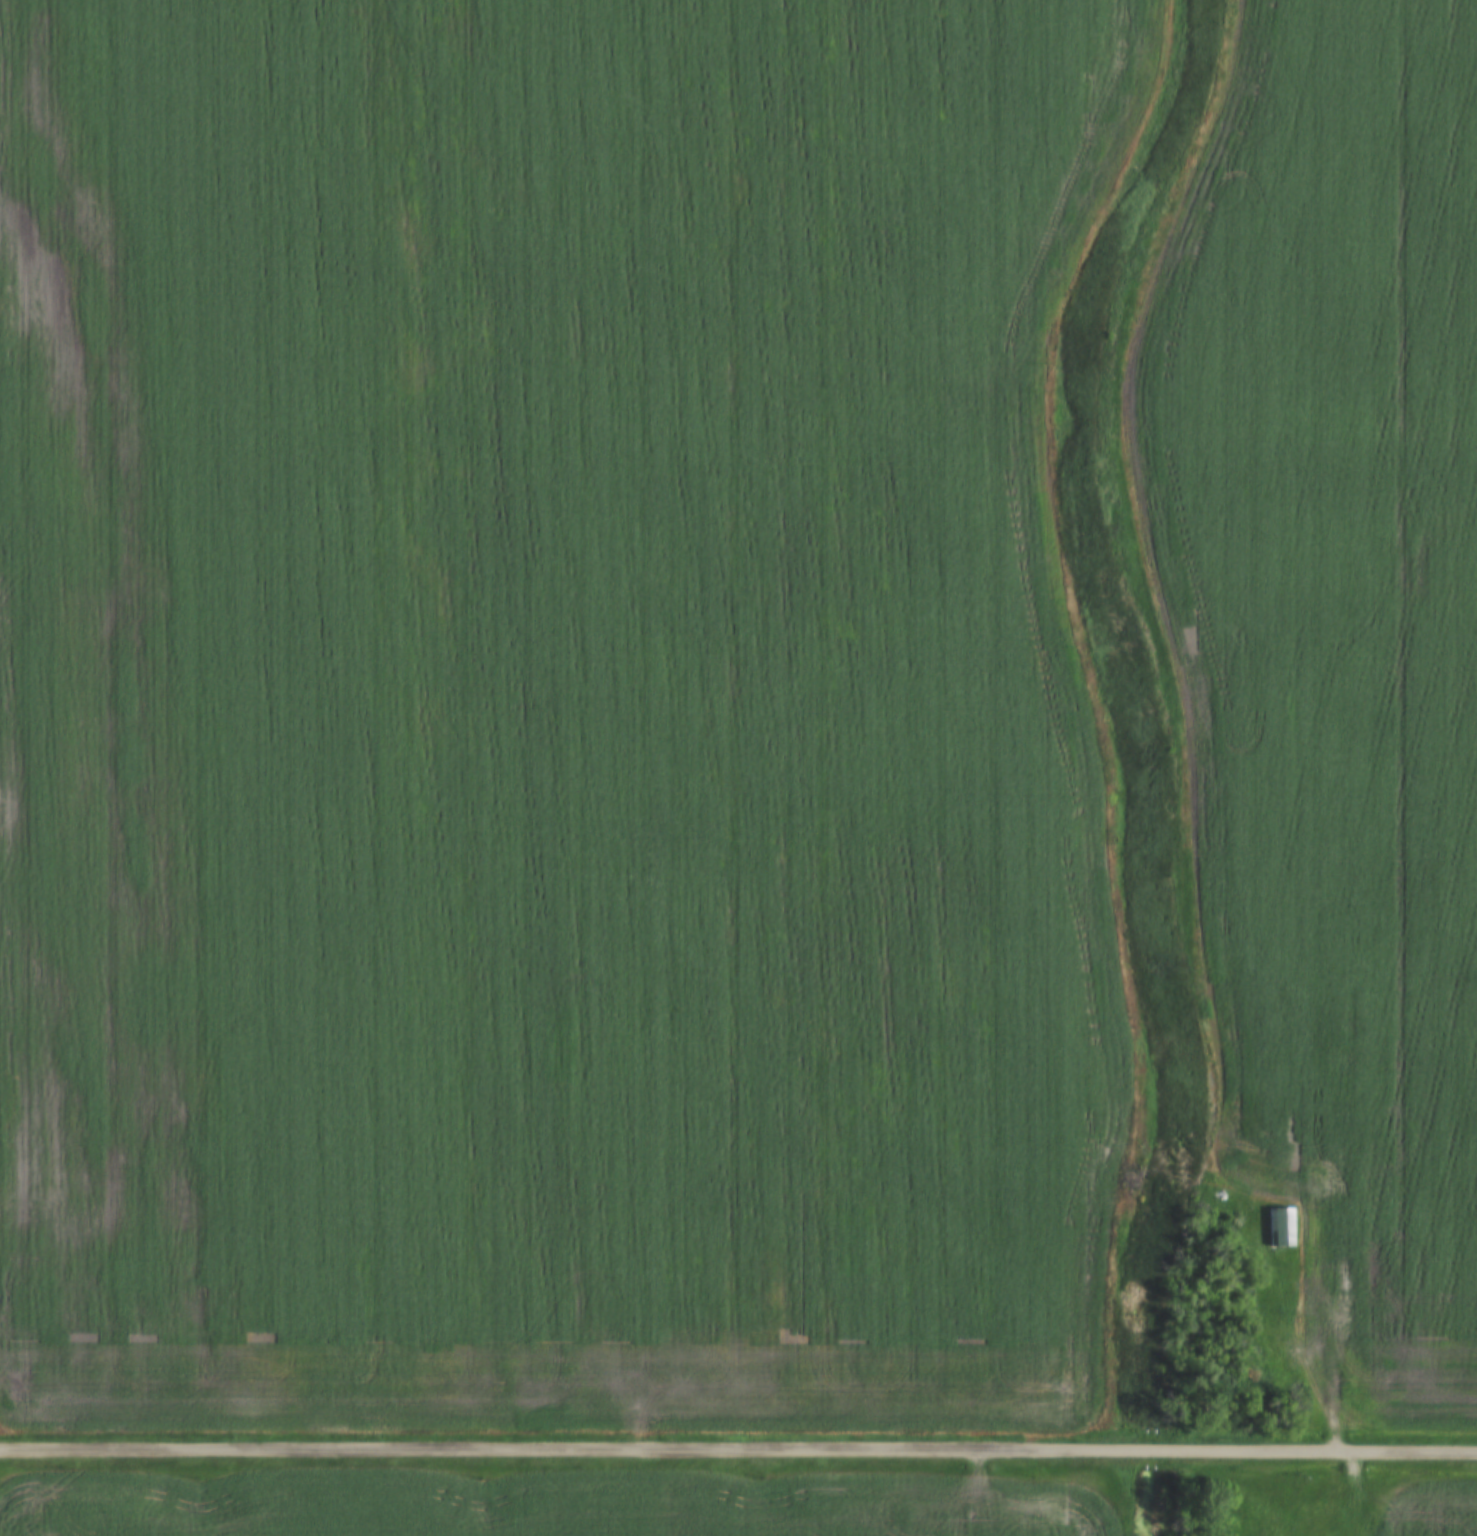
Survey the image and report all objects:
road: (738, 1453)

